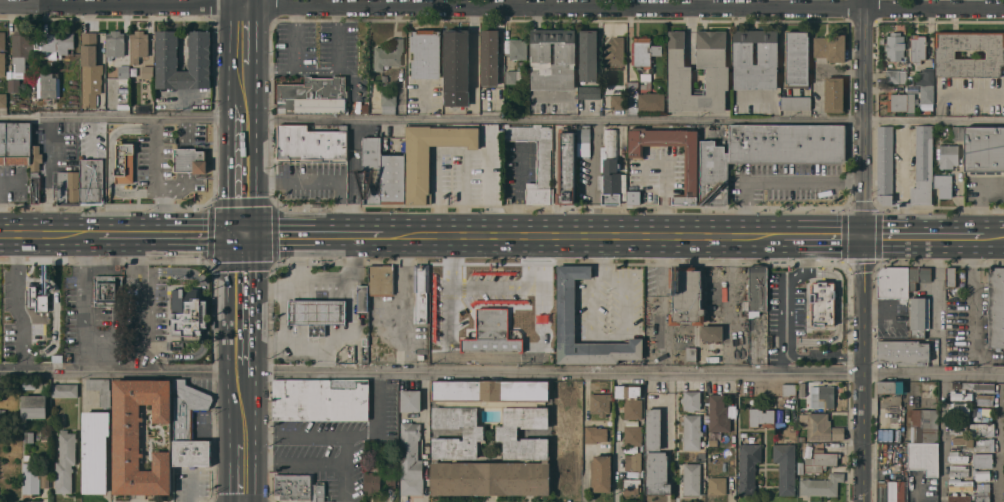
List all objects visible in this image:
road: (230, 3)
road: (255, 3)
road: (696, 4)
road: (501, 7)
road: (691, 20)
road: (255, 34)
building: (55, 43)
building: (115, 44)
building: (139, 45)
building: (895, 45)
road: (229, 46)
road: (691, 47)
building: (830, 48)
building: (918, 48)
building: (518, 49)
building: (644, 51)
building: (541, 52)
building: (2, 53)
building: (426, 53)
building: (615, 53)
building: (768, 53)
building: (389, 54)
building: (945, 54)
building: (22, 55)
building: (588, 55)
building: (490, 57)
building: (798, 59)
building: (168, 61)
building: (456, 67)
building: (91, 70)
road: (275, 70)
building: (717, 70)
building: (124, 71)
building: (147, 71)
road: (256, 72)
road: (318, 72)
building: (516, 76)
building: (896, 76)
building: (926, 76)
building: (646, 80)
building: (911, 80)
building: (50, 84)
building: (632, 85)
building: (590, 92)
building: (834, 93)
building: (927, 94)
building: (314, 96)
road: (229, 99)
building: (389, 99)
building: (3, 100)
building: (617, 101)
building: (651, 101)
building: (902, 102)
building: (795, 103)
building: (365, 108)
road: (114, 118)
road: (630, 120)
building: (46, 129)
building: (58, 131)
building: (958, 133)
building: (584, 141)
building: (15, 142)
building: (310, 143)
building: (73, 149)
building: (984, 149)
building: (766, 151)
building: (623, 153)
building: (429, 155)
building: (949, 155)
road: (256, 156)
building: (36, 157)
building: (190, 160)
building: (537, 160)
building: (125, 162)
building: (885, 163)
building: (923, 165)
building: (567, 168)
building: (371, 169)
building: (609, 169)
road: (228, 170)
road: (155, 175)
building: (692, 176)
building: (392, 178)
road: (321, 179)
building: (92, 181)
road: (781, 181)
building: (944, 185)
road: (593, 186)
building: (35, 187)
building: (69, 187)
road: (48, 194)
building: (633, 197)
traffic signals: (227, 230)
road: (242, 230)
road: (823, 230)
road: (151, 231)
traffic signals: (257, 231)
road: (322, 231)
road: (395, 231)
road: (592, 231)
road: (925, 231)
road: (38, 232)
road: (994, 232)
road: (865, 250)
road: (603, 252)
road: (658, 262)
road: (296, 266)
building: (919, 276)
building: (951, 277)
road: (82, 278)
building: (381, 279)
building: (894, 281)
parking lot: (20, 288)
road: (353, 288)
building: (107, 289)
building: (758, 289)
building: (421, 291)
building: (438, 293)
building: (686, 296)
building: (363, 297)
road: (786, 297)
road: (145, 298)
road: (283, 298)
building: (36, 299)
road: (256, 301)
road: (729, 301)
road: (402, 302)
road: (23, 303)
building: (823, 303)
building: (53, 307)
building: (567, 308)
building: (996, 308)
building: (537, 312)
building: (318, 313)
building: (189, 314)
building: (919, 316)
road: (227, 330)
building: (492, 330)
road: (659, 333)
building: (712, 333)
road: (613, 334)
road: (303, 341)
building: (25, 343)
road: (84, 346)
building: (903, 351)
building: (691, 354)
road: (825, 356)
road: (501, 373)
building: (29, 384)
building: (1, 386)
building: (979, 386)
building: (892, 387)
building: (789, 388)
building: (802, 389)
building: (65, 390)
building: (101, 390)
building: (962, 395)
building: (823, 396)
building: (631, 399)
building: (692, 399)
building: (985, 399)
building: (322, 400)
building: (411, 400)
building: (601, 403)
building: (34, 406)
building: (188, 409)
building: (959, 409)
building: (719, 413)
building: (981, 413)
building: (762, 417)
building: (923, 425)
building: (957, 426)
building: (823, 428)
building: (653, 429)
building: (982, 429)
building: (692, 431)
building: (595, 434)
building: (633, 435)
building: (29, 436)
building: (140, 436)
road: (267, 436)
road: (357, 436)
road: (256, 437)
building: (447, 437)
road: (999, 439)
building: (963, 441)
building: (983, 445)
building: (96, 450)
building: (192, 453)
road: (616, 454)
building: (957, 456)
building: (925, 457)
building: (981, 459)
building: (411, 460)
building: (66, 461)
building: (633, 461)
building: (821, 461)
road: (267, 463)
road: (311, 463)
building: (426, 464)
road: (227, 466)
building: (749, 466)
building: (786, 467)
road: (344, 469)
building: (958, 470)
building: (982, 472)
building: (602, 473)
building: (657, 473)
building: (31, 477)
building: (373, 477)
building: (692, 478)
building: (45, 479)
building: (391, 480)
building: (717, 485)
building: (821, 485)
building: (960, 485)
building: (631, 486)
building: (299, 488)
building: (893, 491)
building: (981, 493)
building: (959, 497)

